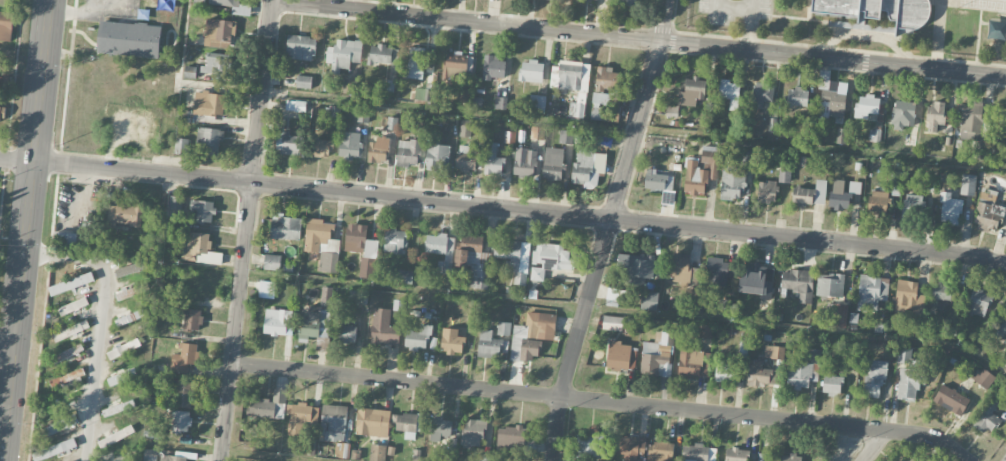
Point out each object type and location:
building: (595, 0)
building: (628, 2)
building: (233, 6)
building: (871, 10)
building: (6, 25)
road: (749, 25)
building: (219, 34)
road: (639, 38)
building: (129, 39)
building: (301, 48)
building: (344, 54)
building: (383, 55)
building: (419, 62)
building: (455, 63)
building: (214, 67)
building: (493, 67)
building: (530, 71)
building: (190, 73)
building: (606, 78)
building: (6, 82)
building: (304, 82)
building: (574, 83)
building: (349, 86)
building: (692, 91)
building: (465, 92)
building: (729, 92)
building: (762, 93)
building: (423, 94)
building: (796, 97)
building: (831, 97)
building: (601, 98)
building: (500, 102)
building: (537, 103)
building: (210, 104)
building: (295, 106)
building: (867, 106)
building: (673, 109)
building: (903, 112)
building: (2, 114)
building: (935, 115)
building: (1001, 116)
building: (971, 121)
building: (466, 127)
building: (537, 132)
building: (875, 135)
building: (566, 136)
building: (210, 139)
building: (290, 144)
building: (350, 145)
building: (323, 148)
building: (378, 151)
building: (408, 152)
building: (437, 153)
building: (466, 158)
building: (747, 158)
building: (493, 159)
building: (524, 162)
building: (552, 163)
building: (587, 168)
building: (701, 170)
building: (784, 175)
building: (656, 179)
building: (731, 182)
building: (968, 184)
building: (766, 191)
building: (810, 193)
building: (842, 193)
building: (878, 202)
building: (175, 203)
building: (913, 204)
road: (503, 208)
building: (950, 209)
building: (203, 211)
building: (988, 212)
building: (124, 214)
building: (286, 227)
road: (28, 230)
road: (247, 230)
road: (608, 230)
building: (65, 238)
building: (362, 240)
building: (395, 241)
building: (322, 244)
building: (201, 249)
building: (461, 256)
building: (552, 256)
building: (513, 257)
building: (272, 262)
building: (636, 267)
building: (131, 269)
building: (716, 271)
building: (537, 273)
building: (404, 277)
building: (755, 281)
building: (71, 284)
building: (796, 284)
building: (830, 284)
building: (266, 290)
building: (941, 291)
building: (133, 292)
building: (871, 292)
building: (691, 293)
building: (909, 295)
building: (326, 296)
building: (616, 296)
building: (358, 297)
building: (649, 300)
building: (978, 302)
building: (73, 306)
building: (840, 315)
building: (129, 318)
building: (192, 320)
building: (277, 321)
building: (612, 322)
building: (314, 324)
road: (101, 325)
building: (384, 328)
building: (503, 328)
building: (71, 331)
building: (705, 331)
building: (1001, 331)
building: (347, 334)
building: (532, 335)
road: (8, 338)
building: (418, 338)
building: (451, 341)
building: (488, 344)
building: (123, 349)
building: (774, 351)
building: (67, 354)
building: (657, 354)
building: (619, 355)
building: (812, 355)
building: (185, 358)
building: (689, 361)
building: (725, 371)
building: (122, 373)
building: (761, 374)
building: (802, 374)
building: (908, 375)
building: (982, 377)
building: (67, 379)
building: (874, 379)
building: (831, 385)
building: (182, 394)
building: (951, 399)
road: (603, 402)
building: (272, 406)
building: (118, 408)
building: (986, 414)
building: (298, 418)
building: (181, 422)
building: (373, 422)
building: (333, 423)
building: (408, 424)
building: (61, 425)
building: (440, 429)
building: (472, 433)
building: (116, 437)
building: (510, 437)
building: (589, 445)
road: (876, 446)
building: (631, 447)
building: (54, 450)
building: (660, 451)
building: (381, 452)
building: (698, 453)
building: (735, 454)
building: (149, 455)
building: (486, 457)
building: (766, 457)
building: (789, 457)
building: (172, 458)
building: (909, 458)
building: (928, 459)
building: (272, 460)

